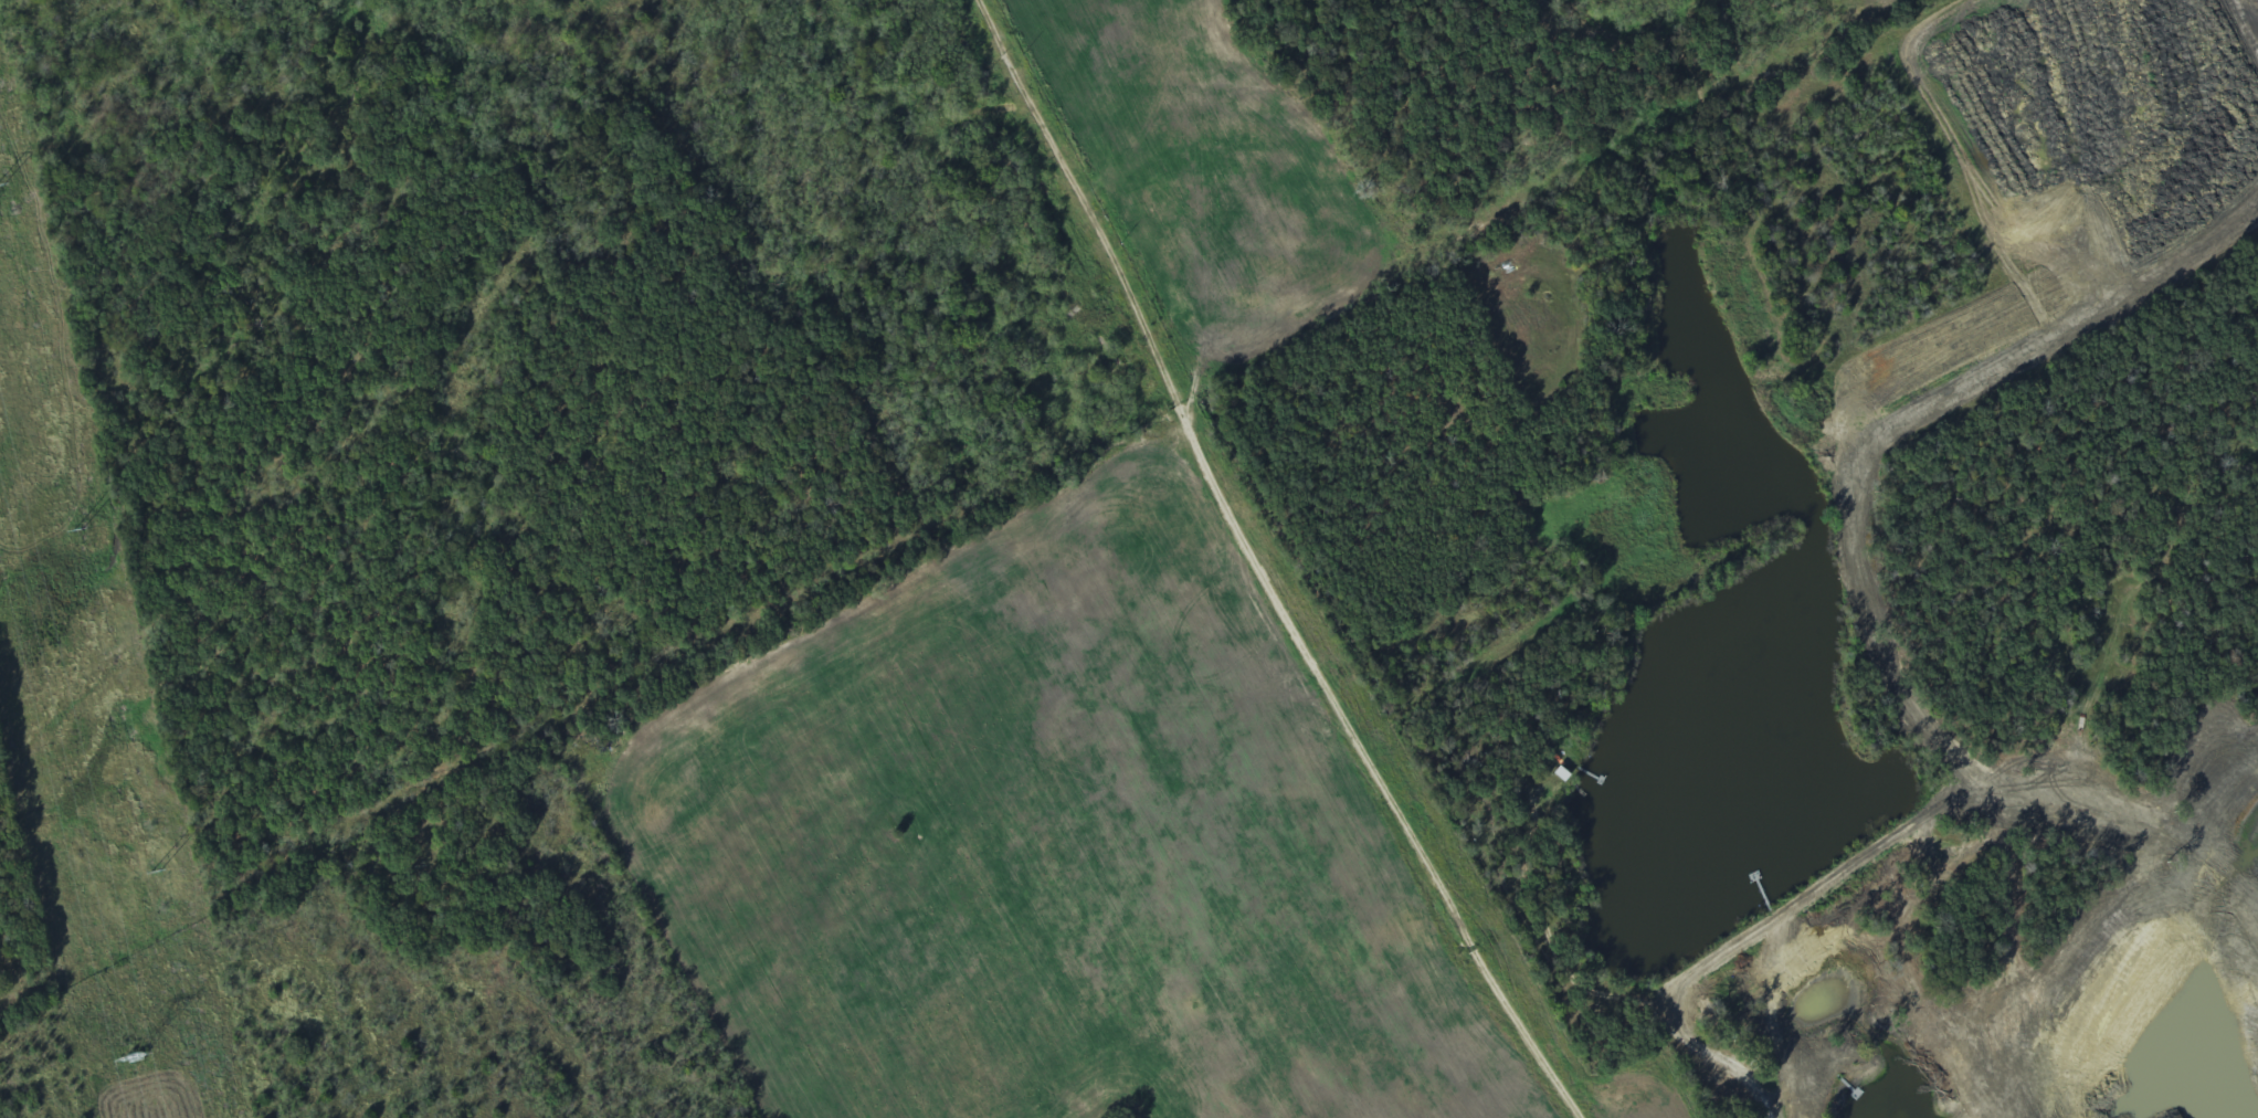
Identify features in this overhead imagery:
power tower: (78, 531)
road: (1258, 569)
power tower: (157, 873)
power tower: (137, 1056)
road: (1724, 1064)

